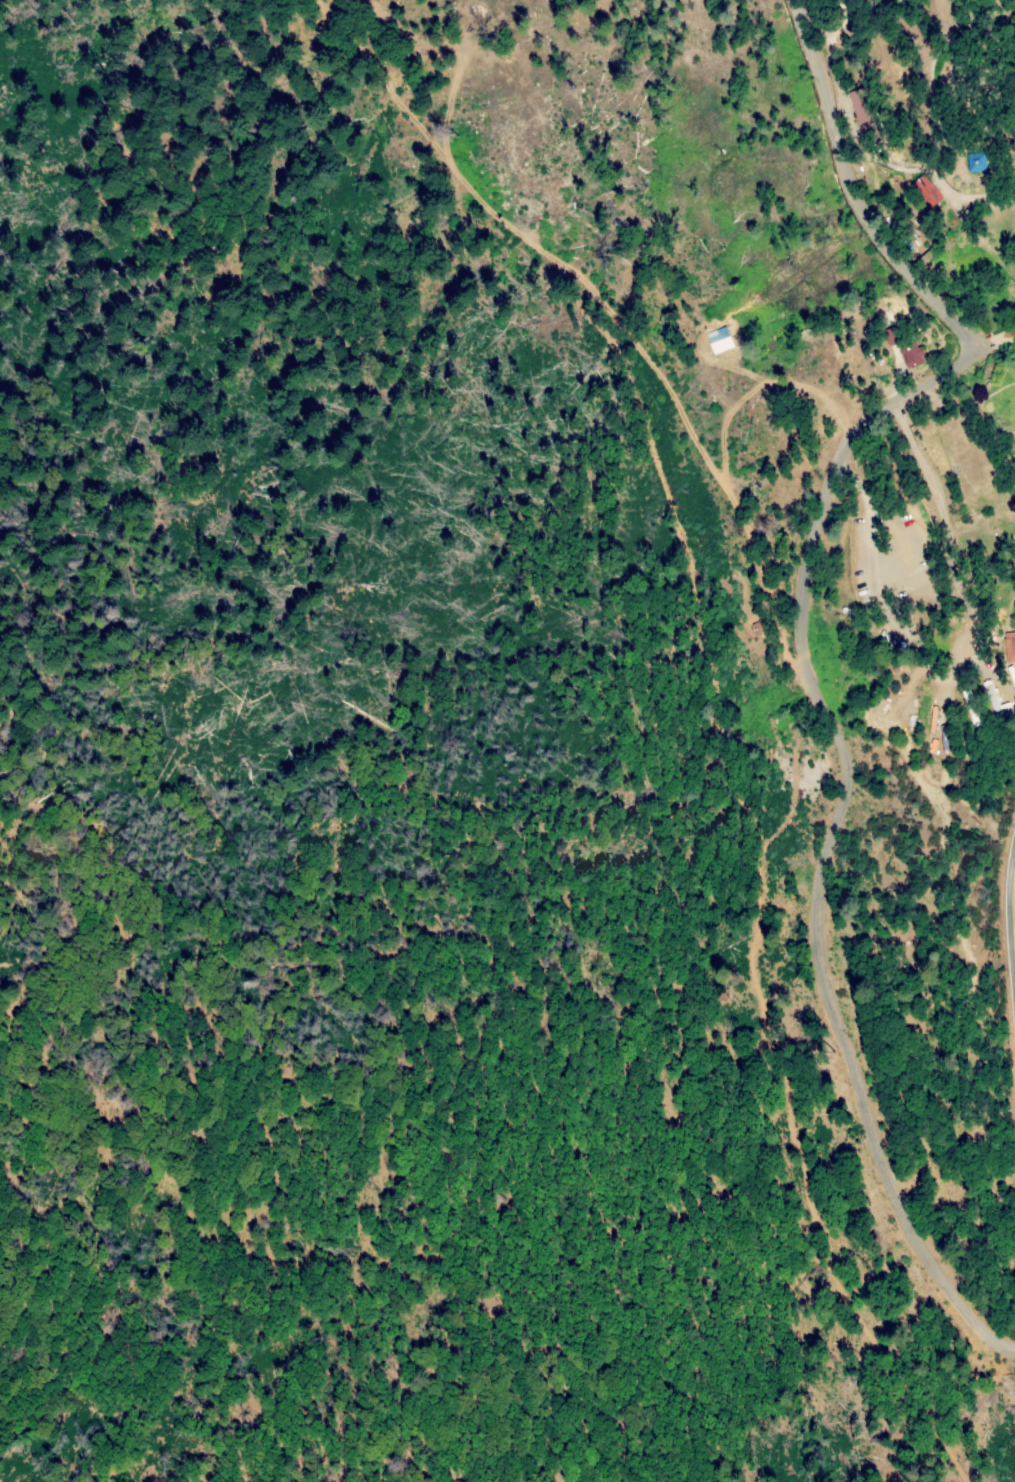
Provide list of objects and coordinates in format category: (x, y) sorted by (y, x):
building: (925, 190)
building: (719, 339)
building: (910, 354)
building: (1009, 646)
road: (802, 650)
building: (997, 699)
building: (972, 704)
road: (1012, 909)

